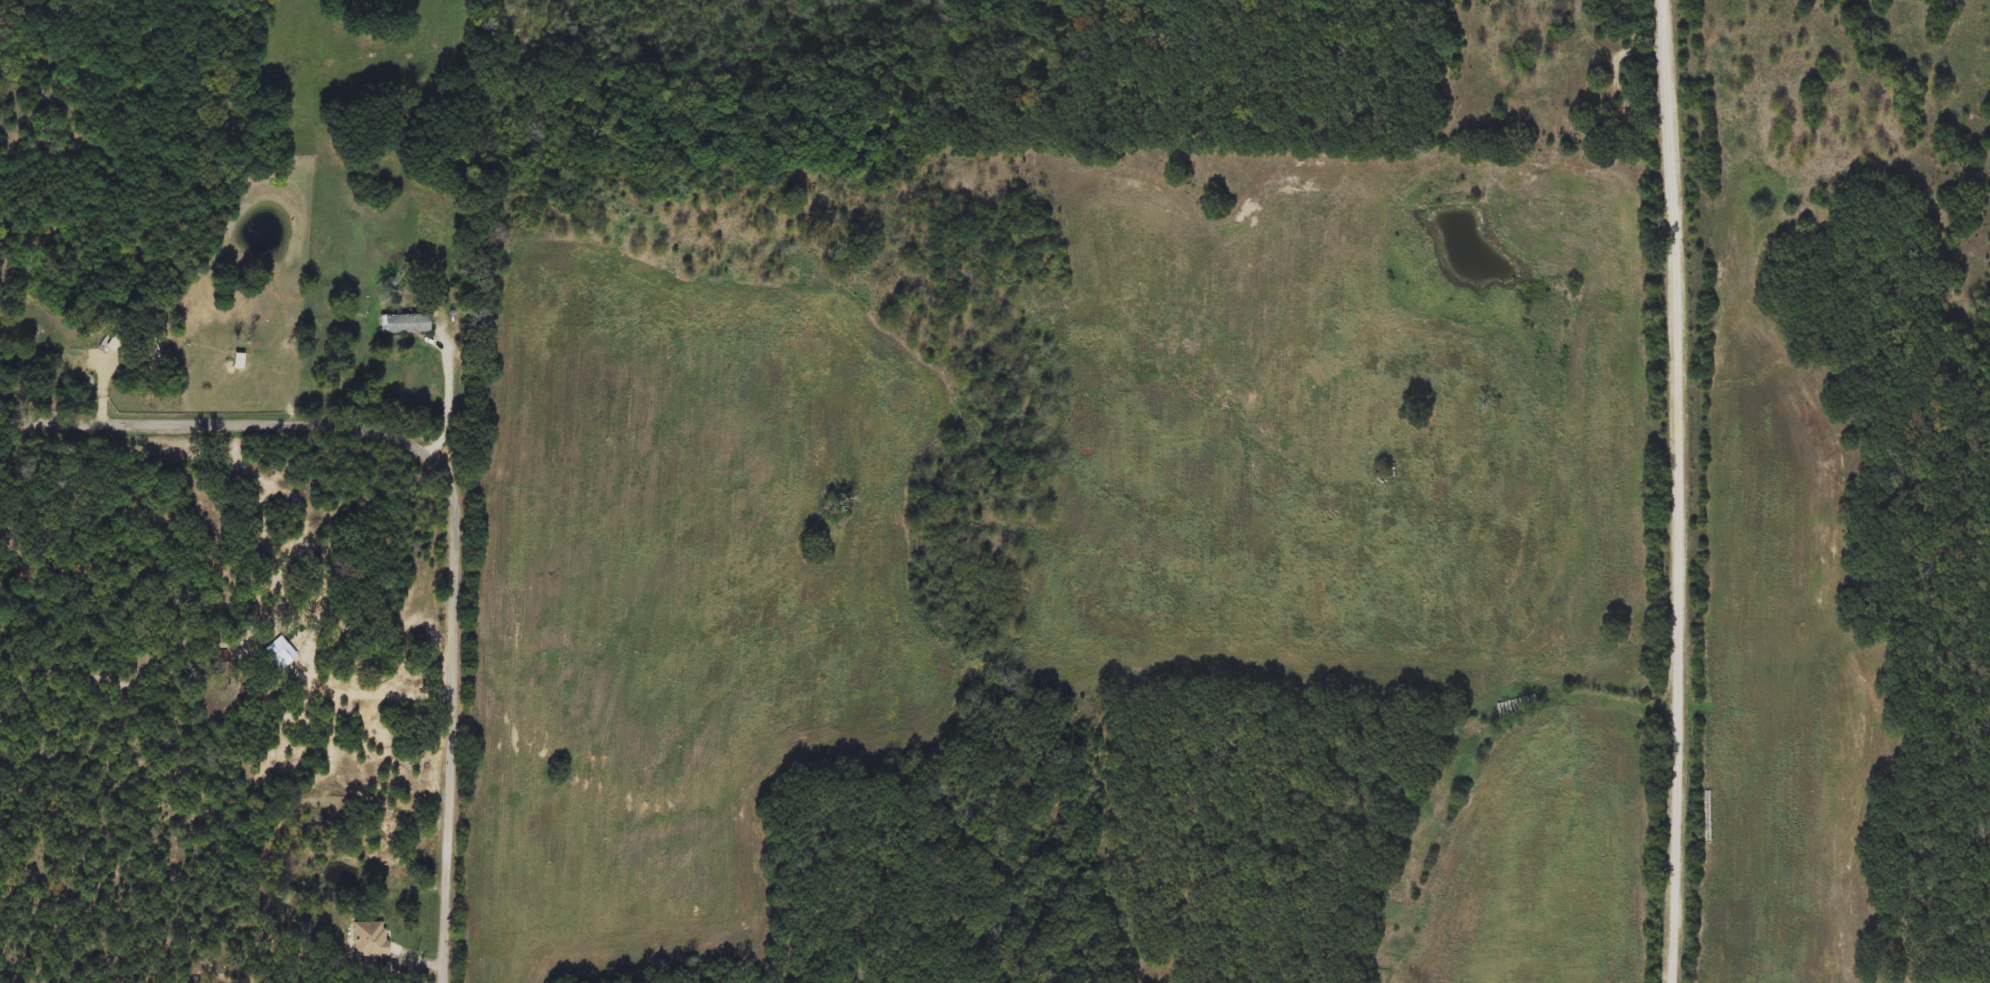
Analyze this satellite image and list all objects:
building: (407, 324)
building: (146, 355)
road: (454, 399)
road: (1680, 491)
road: (455, 495)
building: (376, 817)
building: (371, 939)

